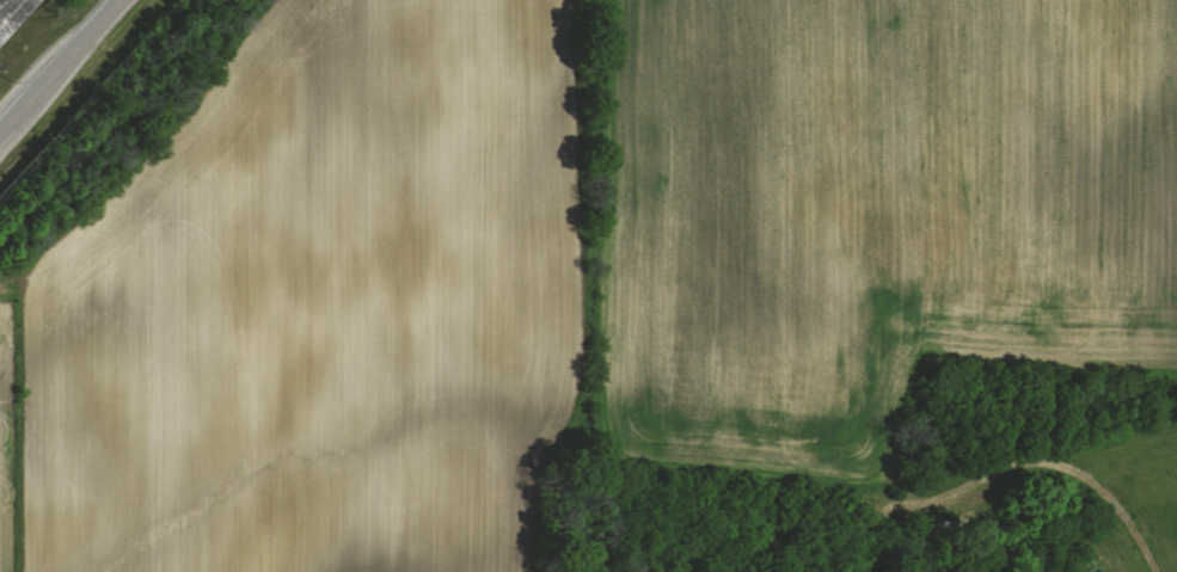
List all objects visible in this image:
building: (13, 16)
road: (59, 64)

